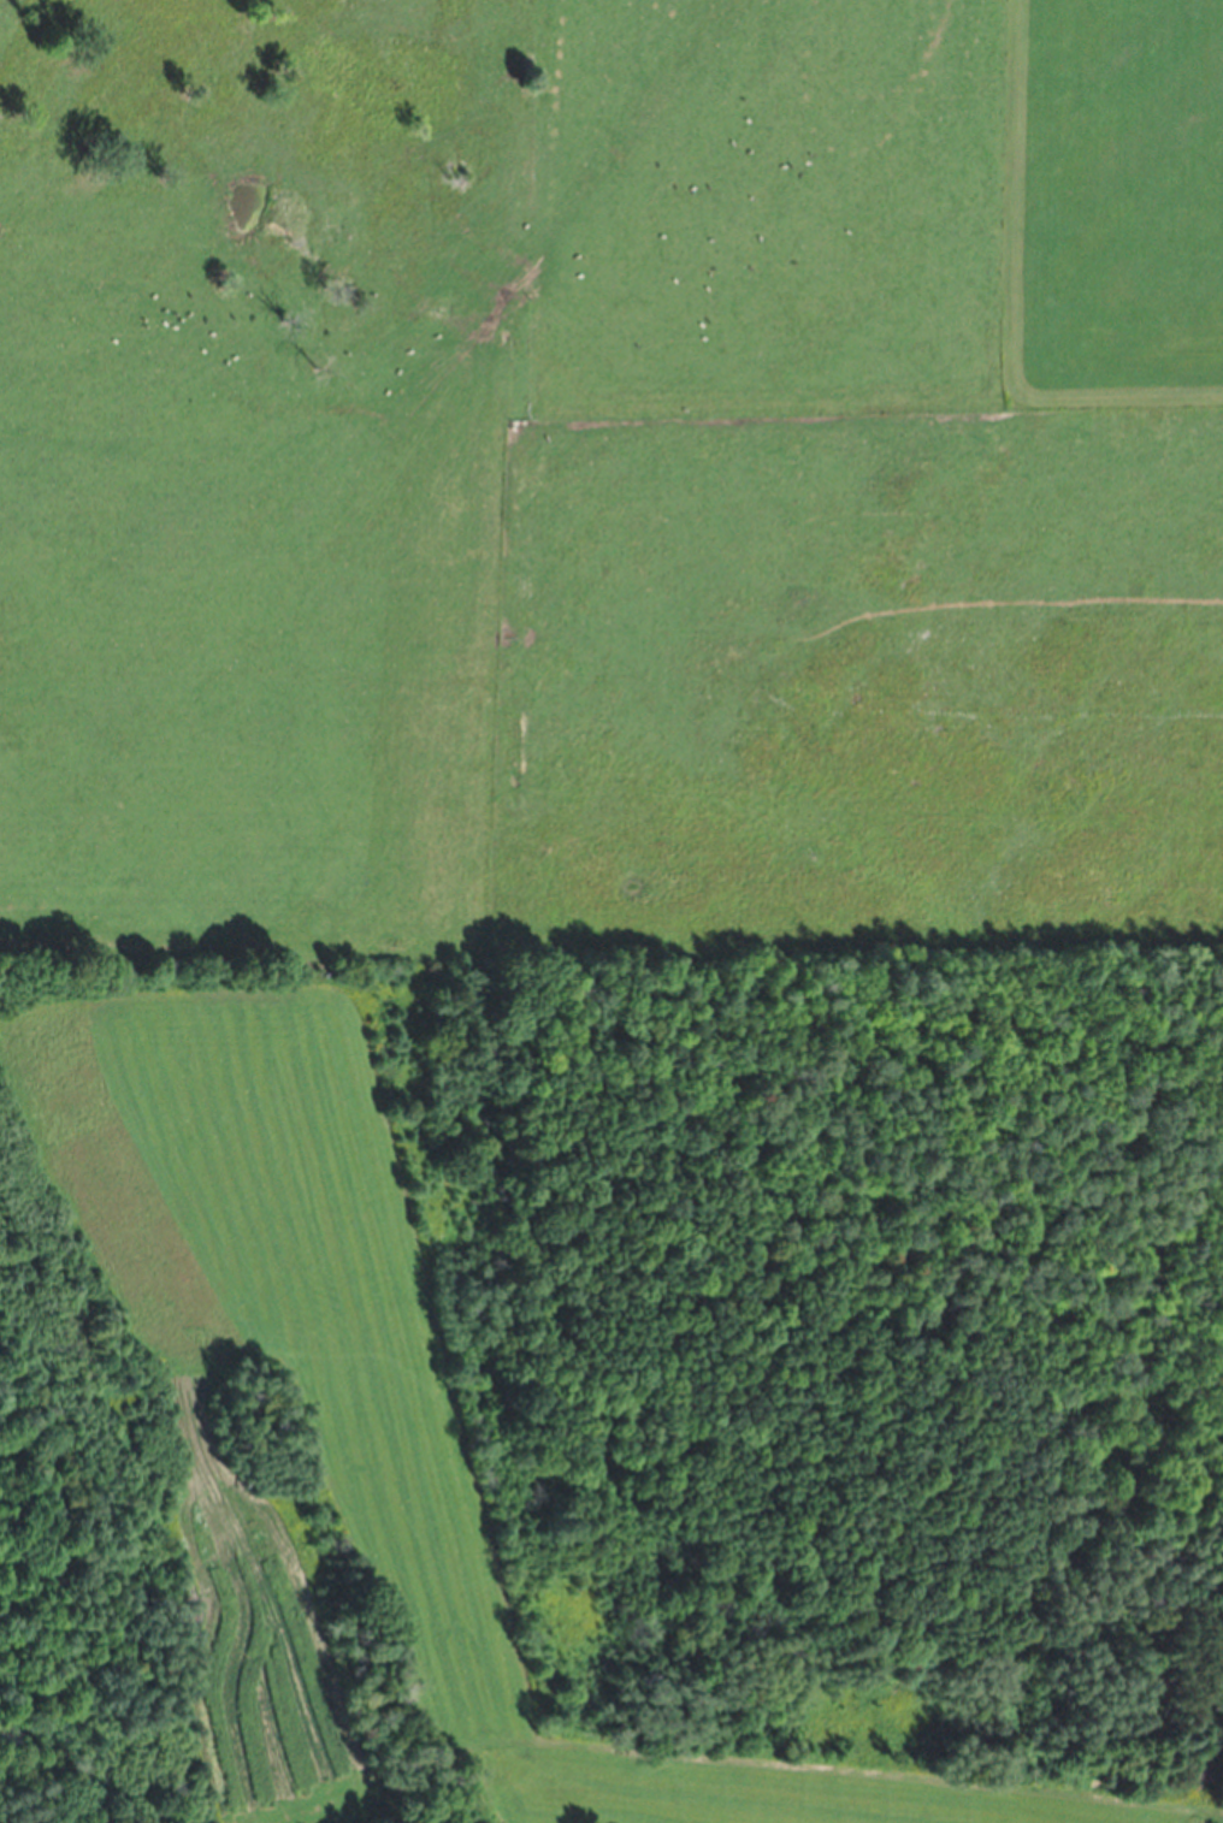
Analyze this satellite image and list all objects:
crop: (566, 631)

